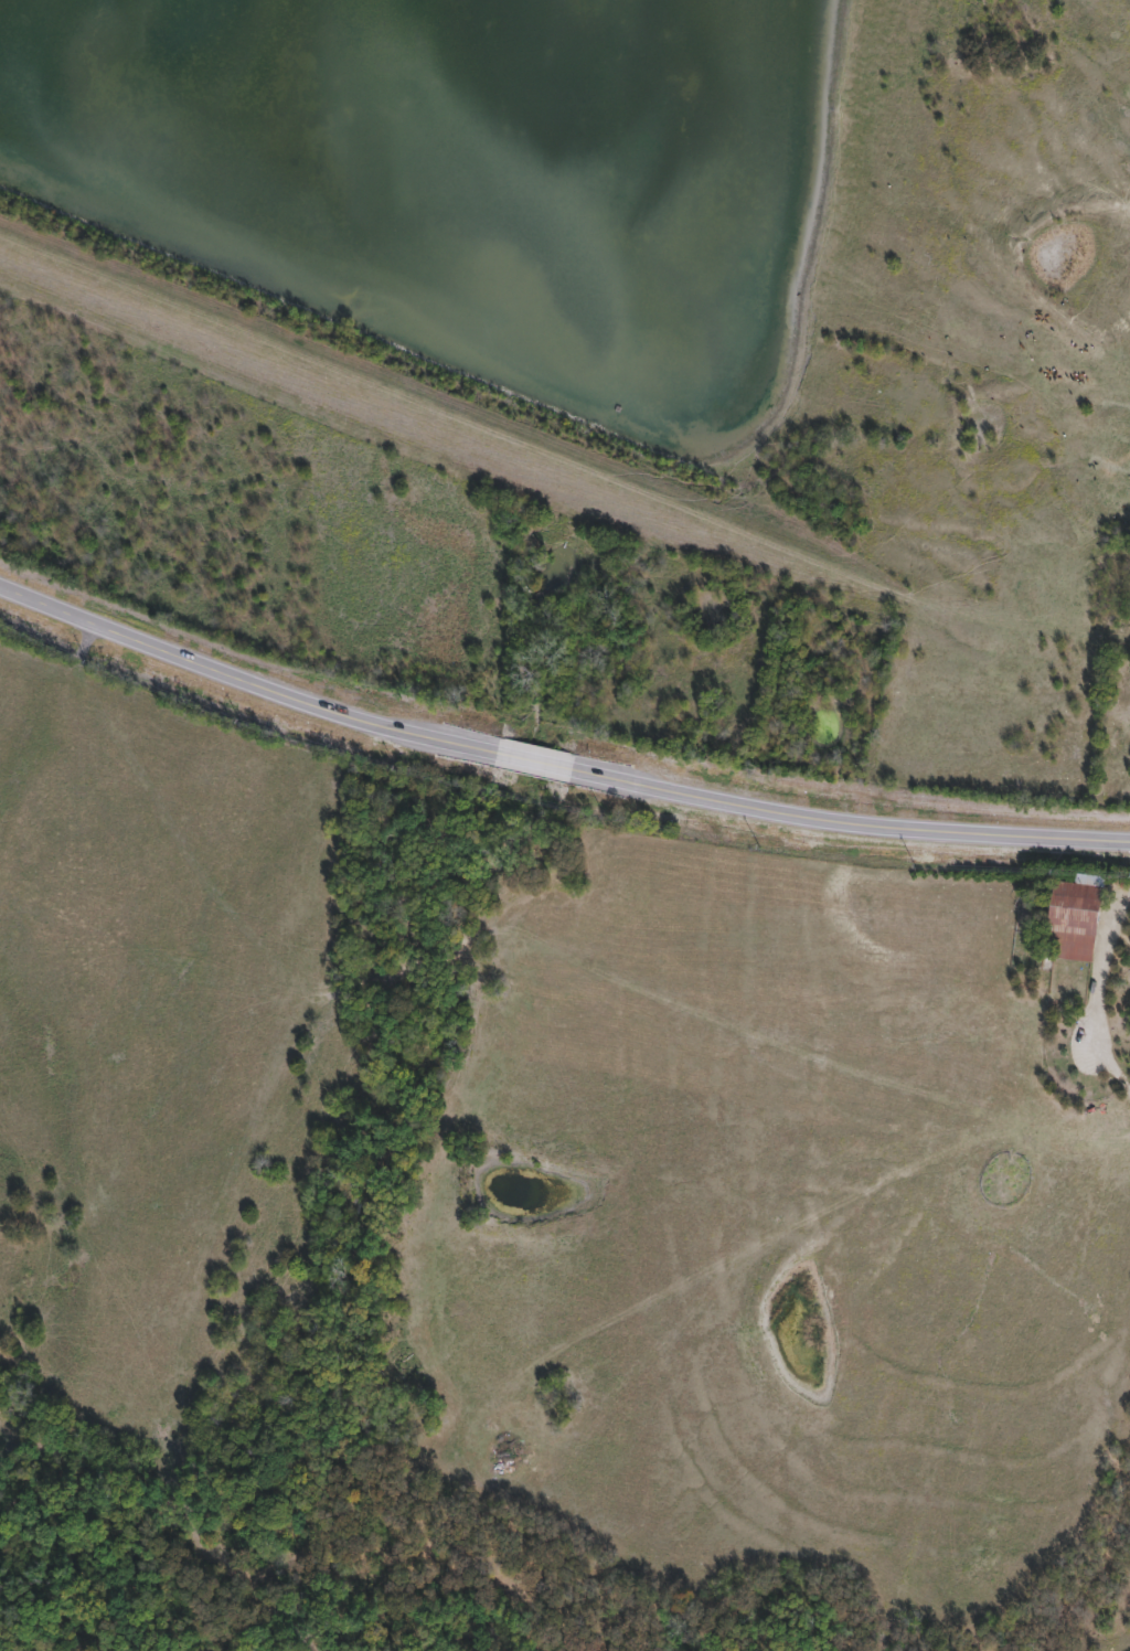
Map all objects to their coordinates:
road: (553, 764)
building: (1073, 923)
road: (1098, 984)
road: (1128, 1088)

